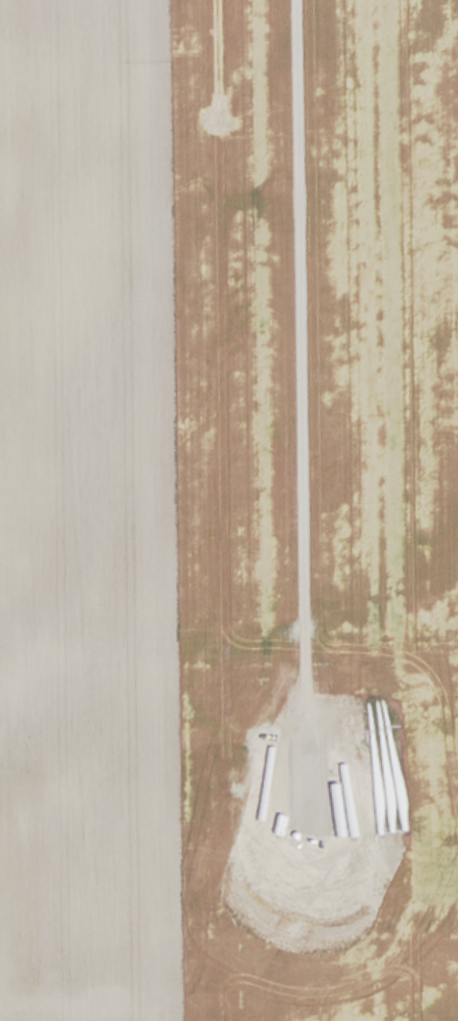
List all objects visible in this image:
wind turbine: (323, 818)

